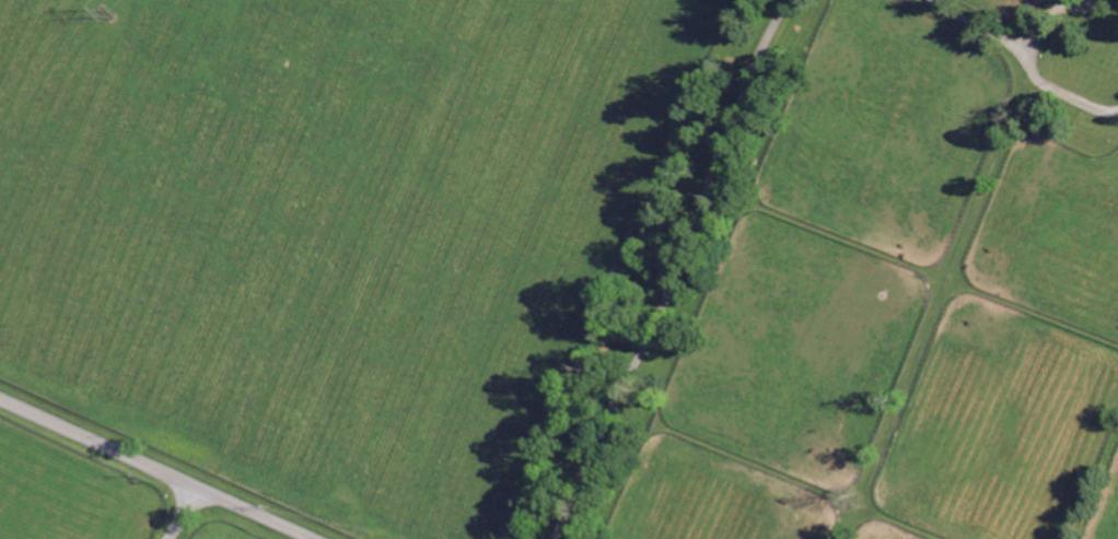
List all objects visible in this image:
power tower: (107, 13)
road: (1016, 49)
road: (1062, 92)
road: (675, 270)
road: (156, 467)
road: (187, 514)

